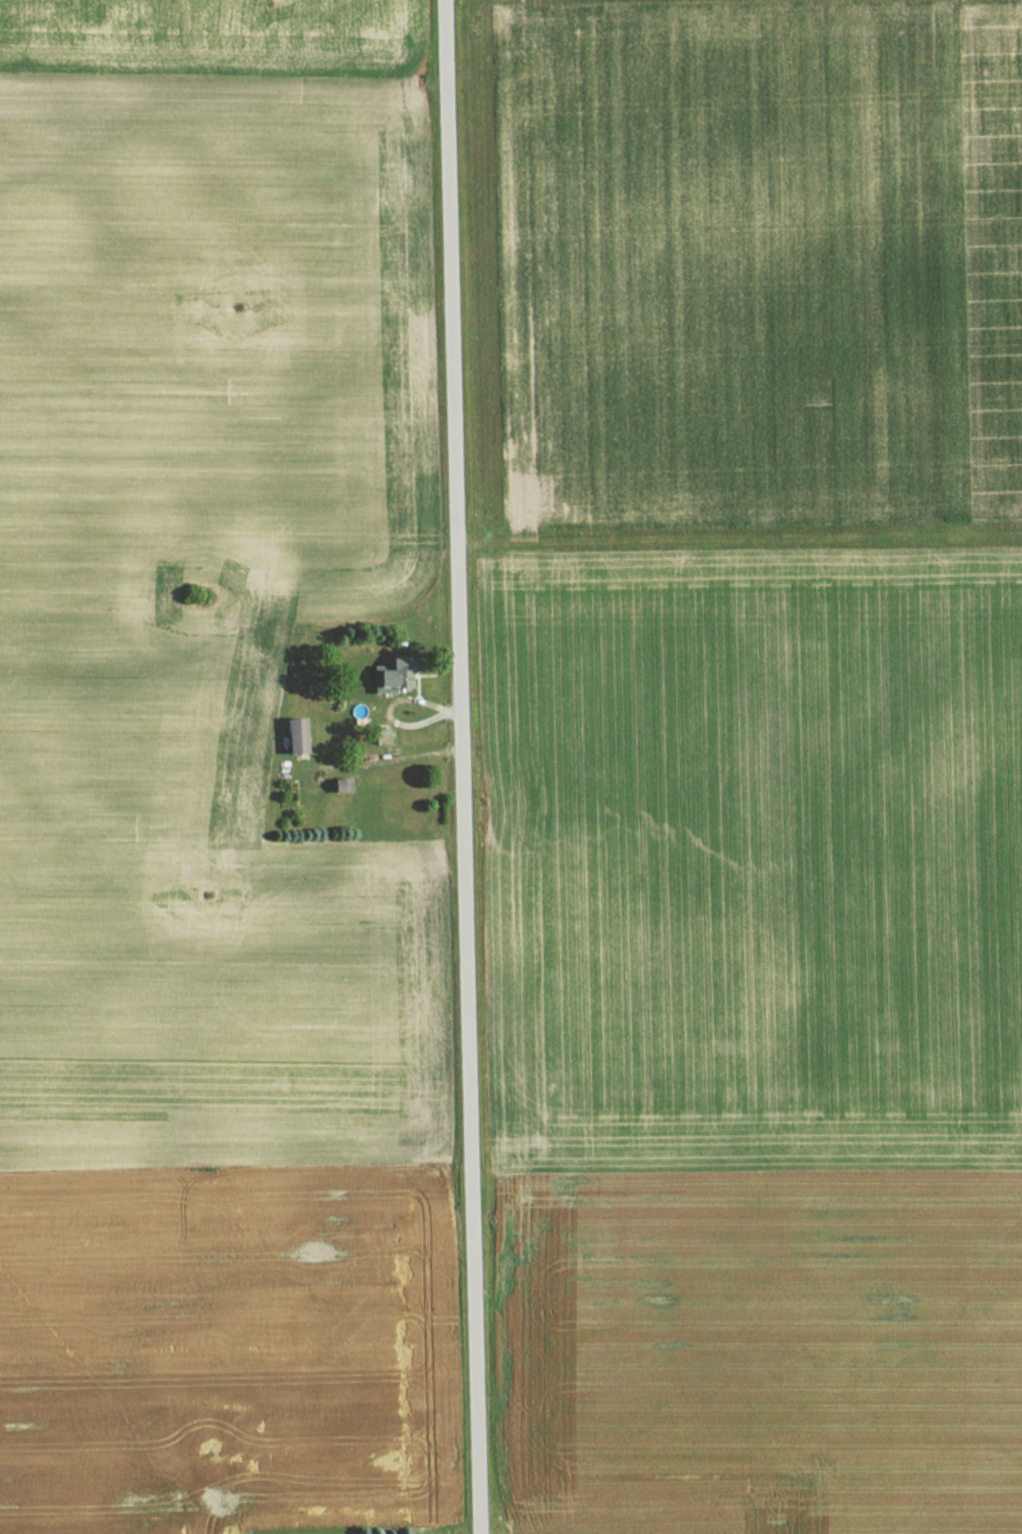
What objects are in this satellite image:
crop: (757, 580)
building: (384, 675)
building: (291, 735)
road: (459, 767)
crop: (209, 775)
crop: (764, 1350)

